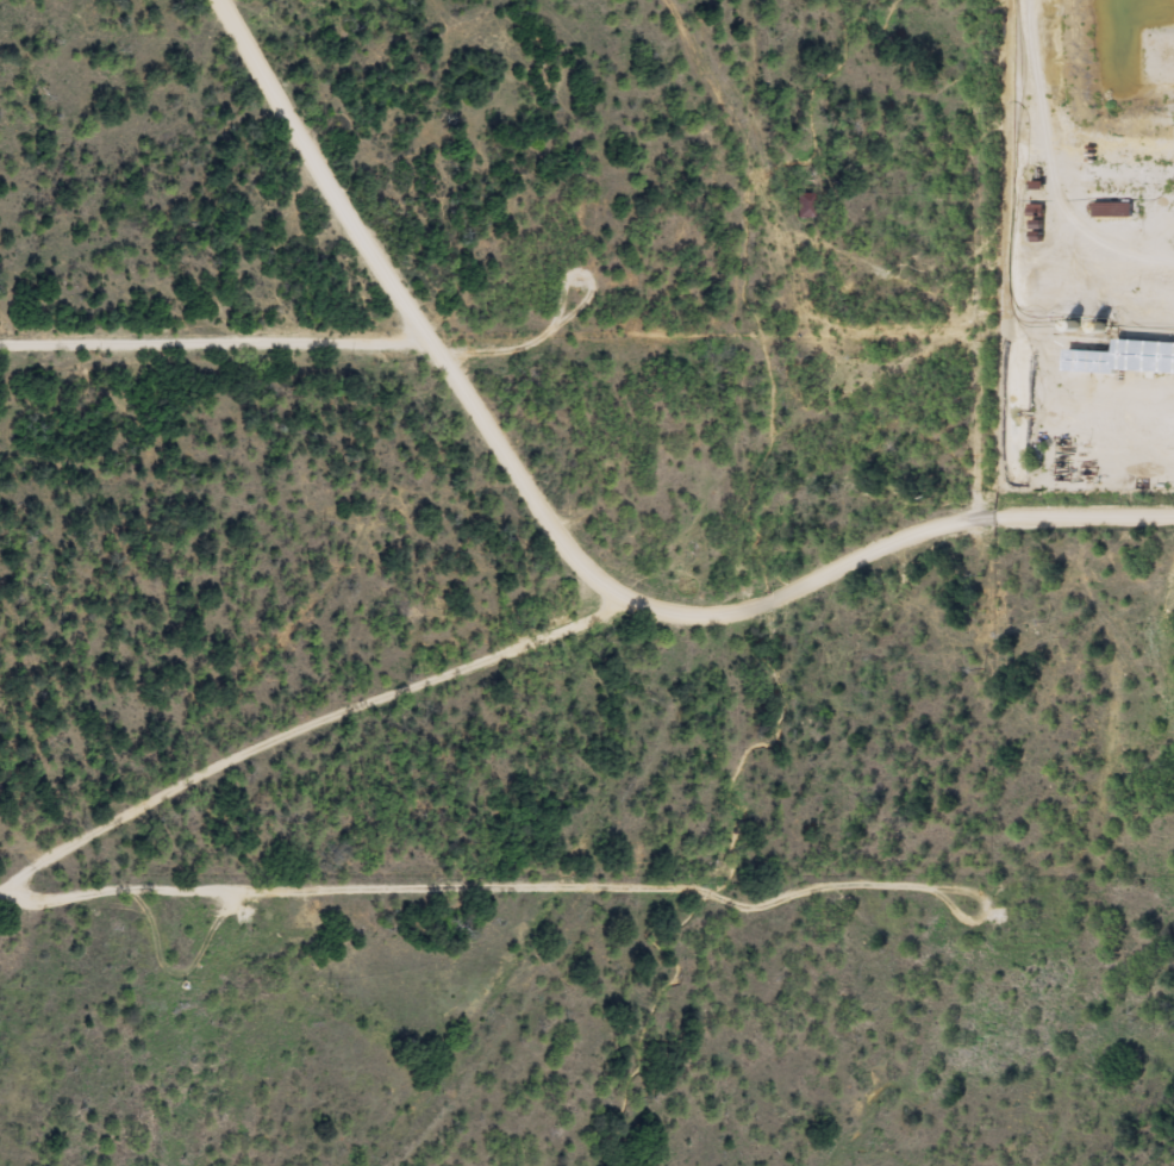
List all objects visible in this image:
building: (1163, 54)
building: (800, 205)
building: (1111, 210)
road: (425, 312)
building: (1124, 358)
road: (220, 367)
road: (891, 578)
railway: (679, 624)
road: (298, 753)
road: (1137, 847)
road: (23, 923)

